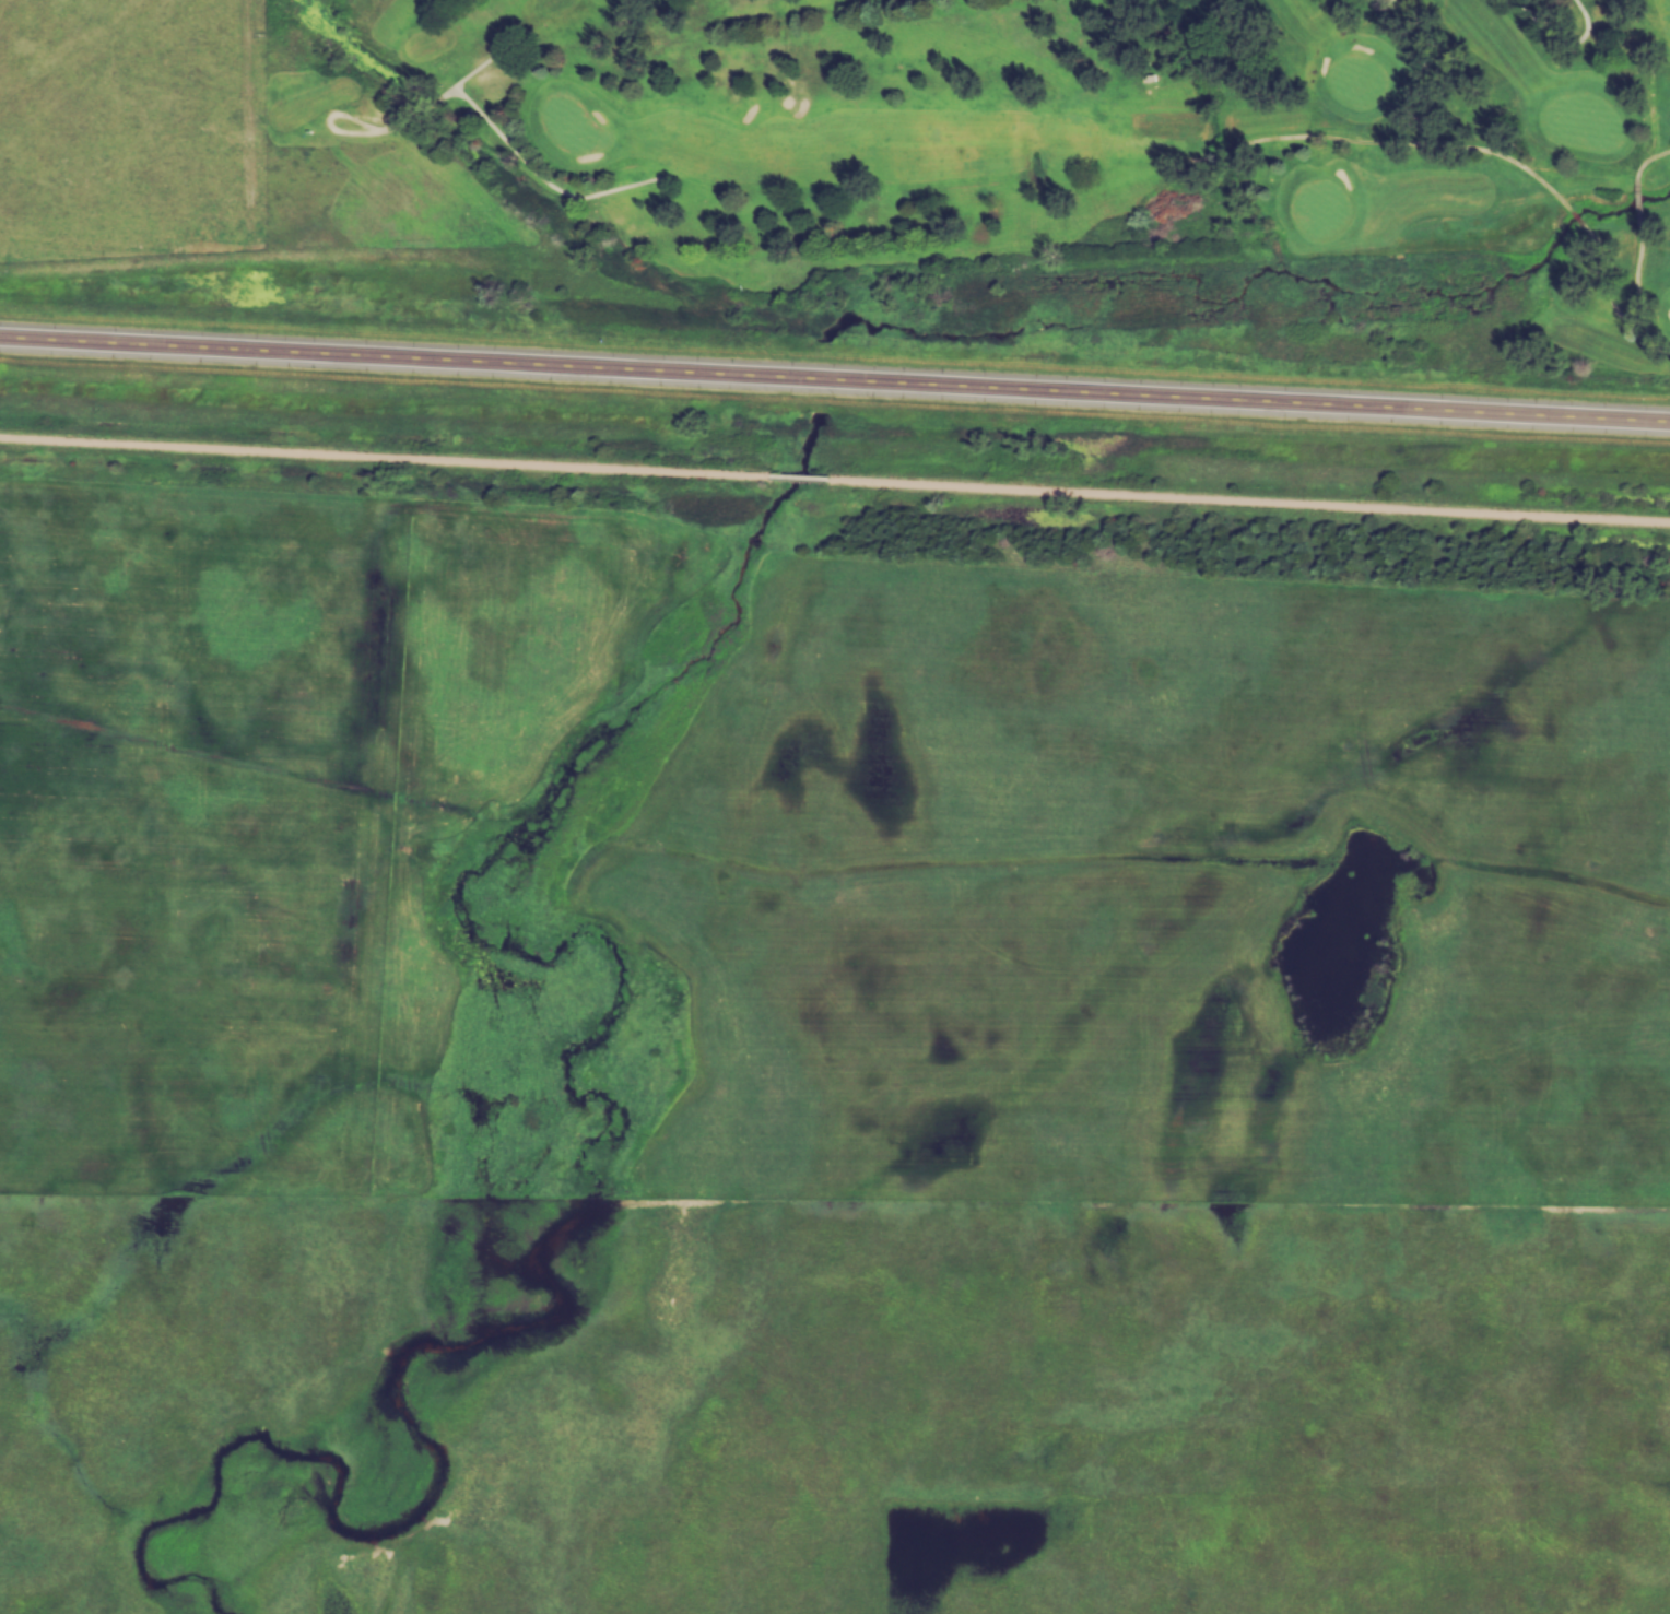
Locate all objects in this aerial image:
park: (1047, 140)
airport: (133, 150)
road: (835, 384)
road: (383, 457)
road: (793, 480)
road: (1245, 502)

